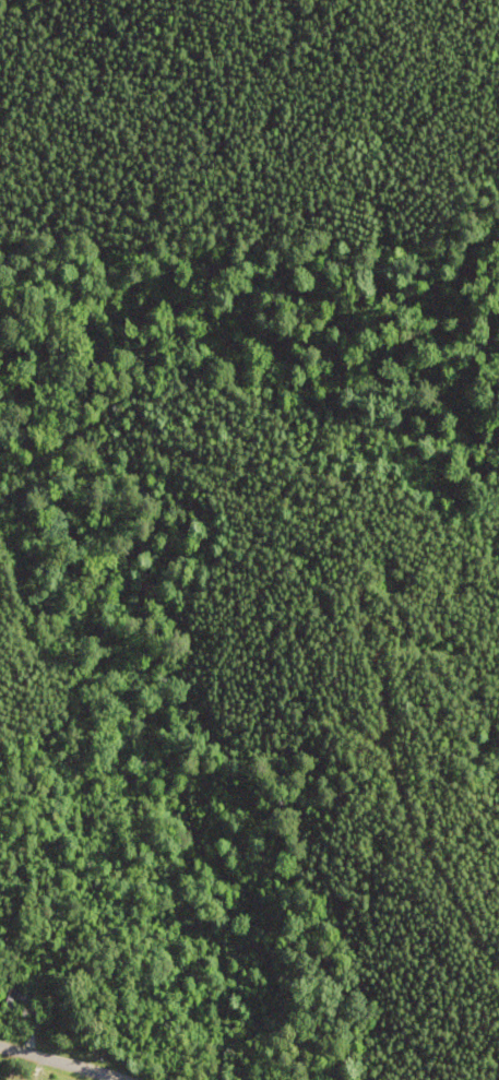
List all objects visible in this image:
building: (17, 1000)
road: (82, 1055)

